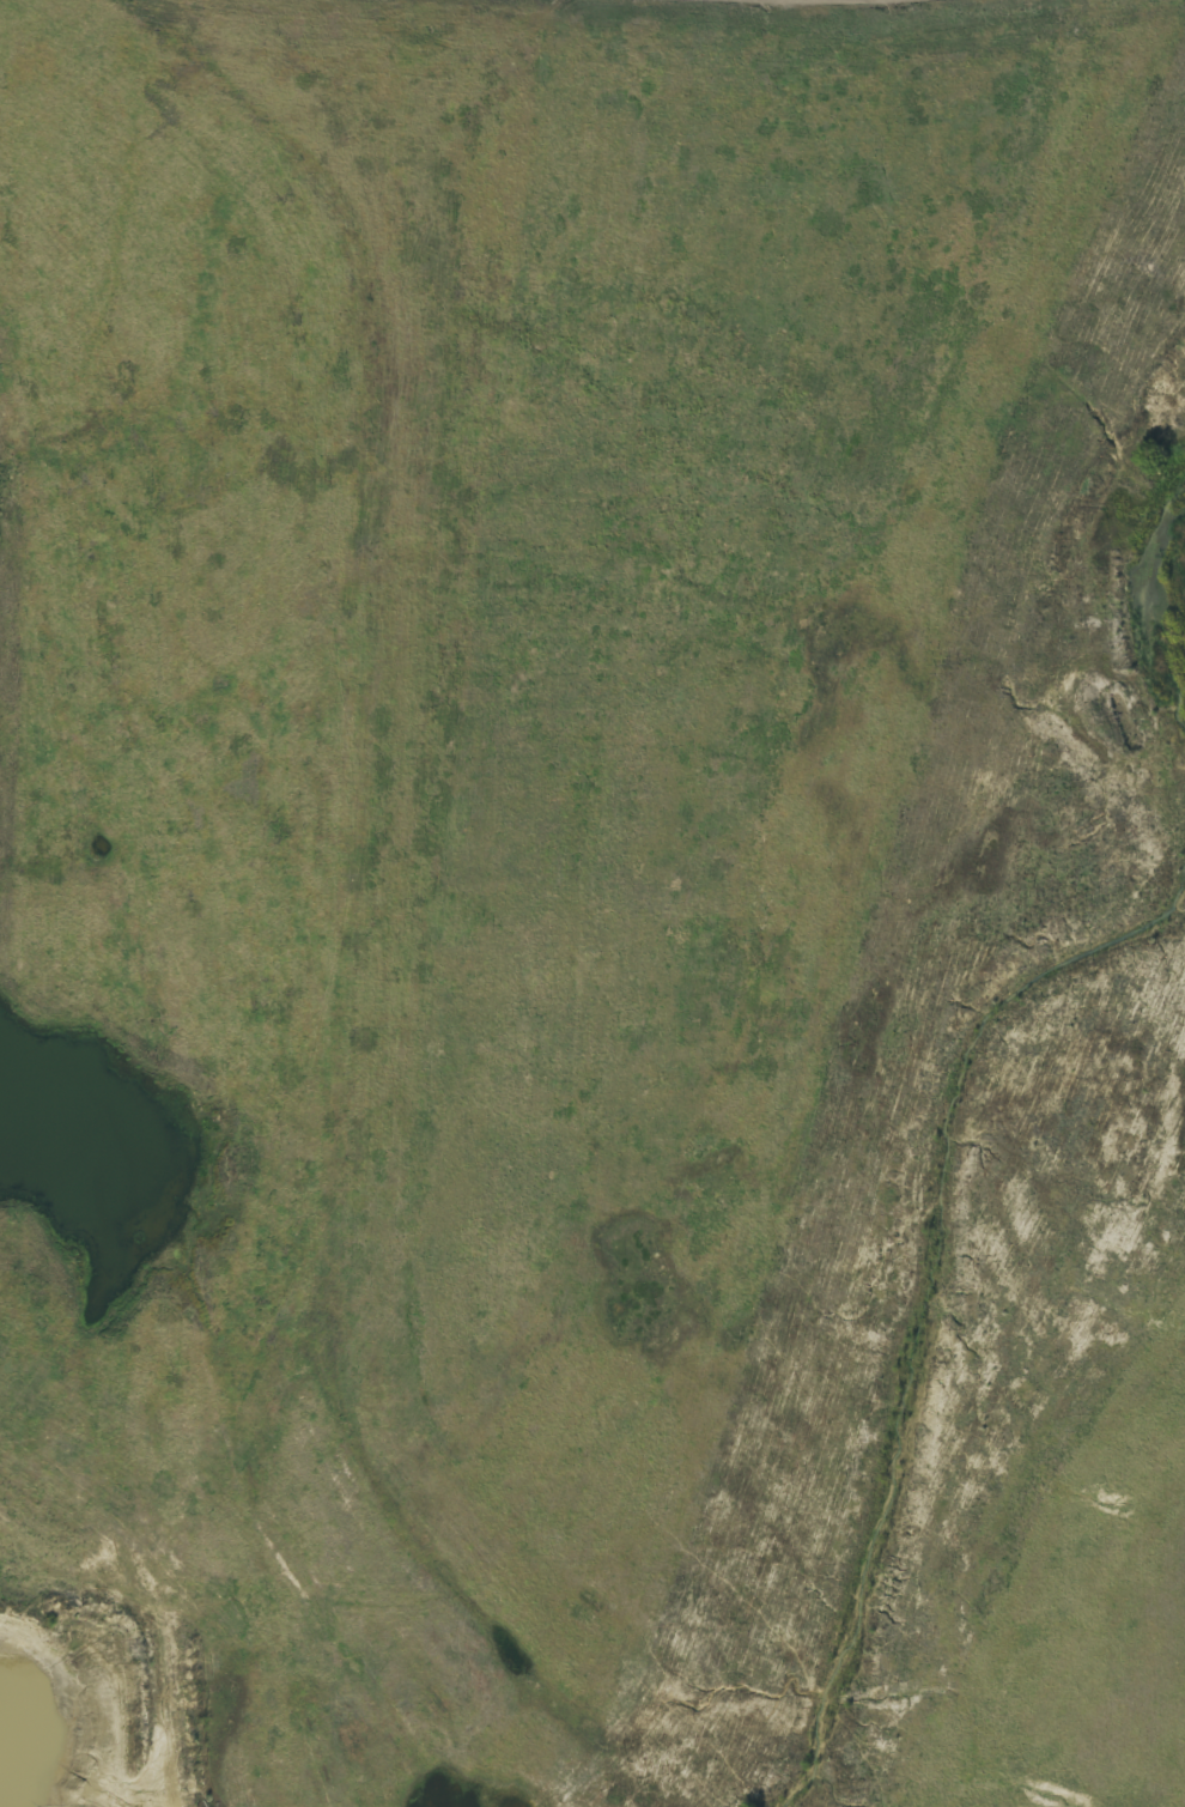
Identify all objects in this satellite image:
quarry: (700, 935)

